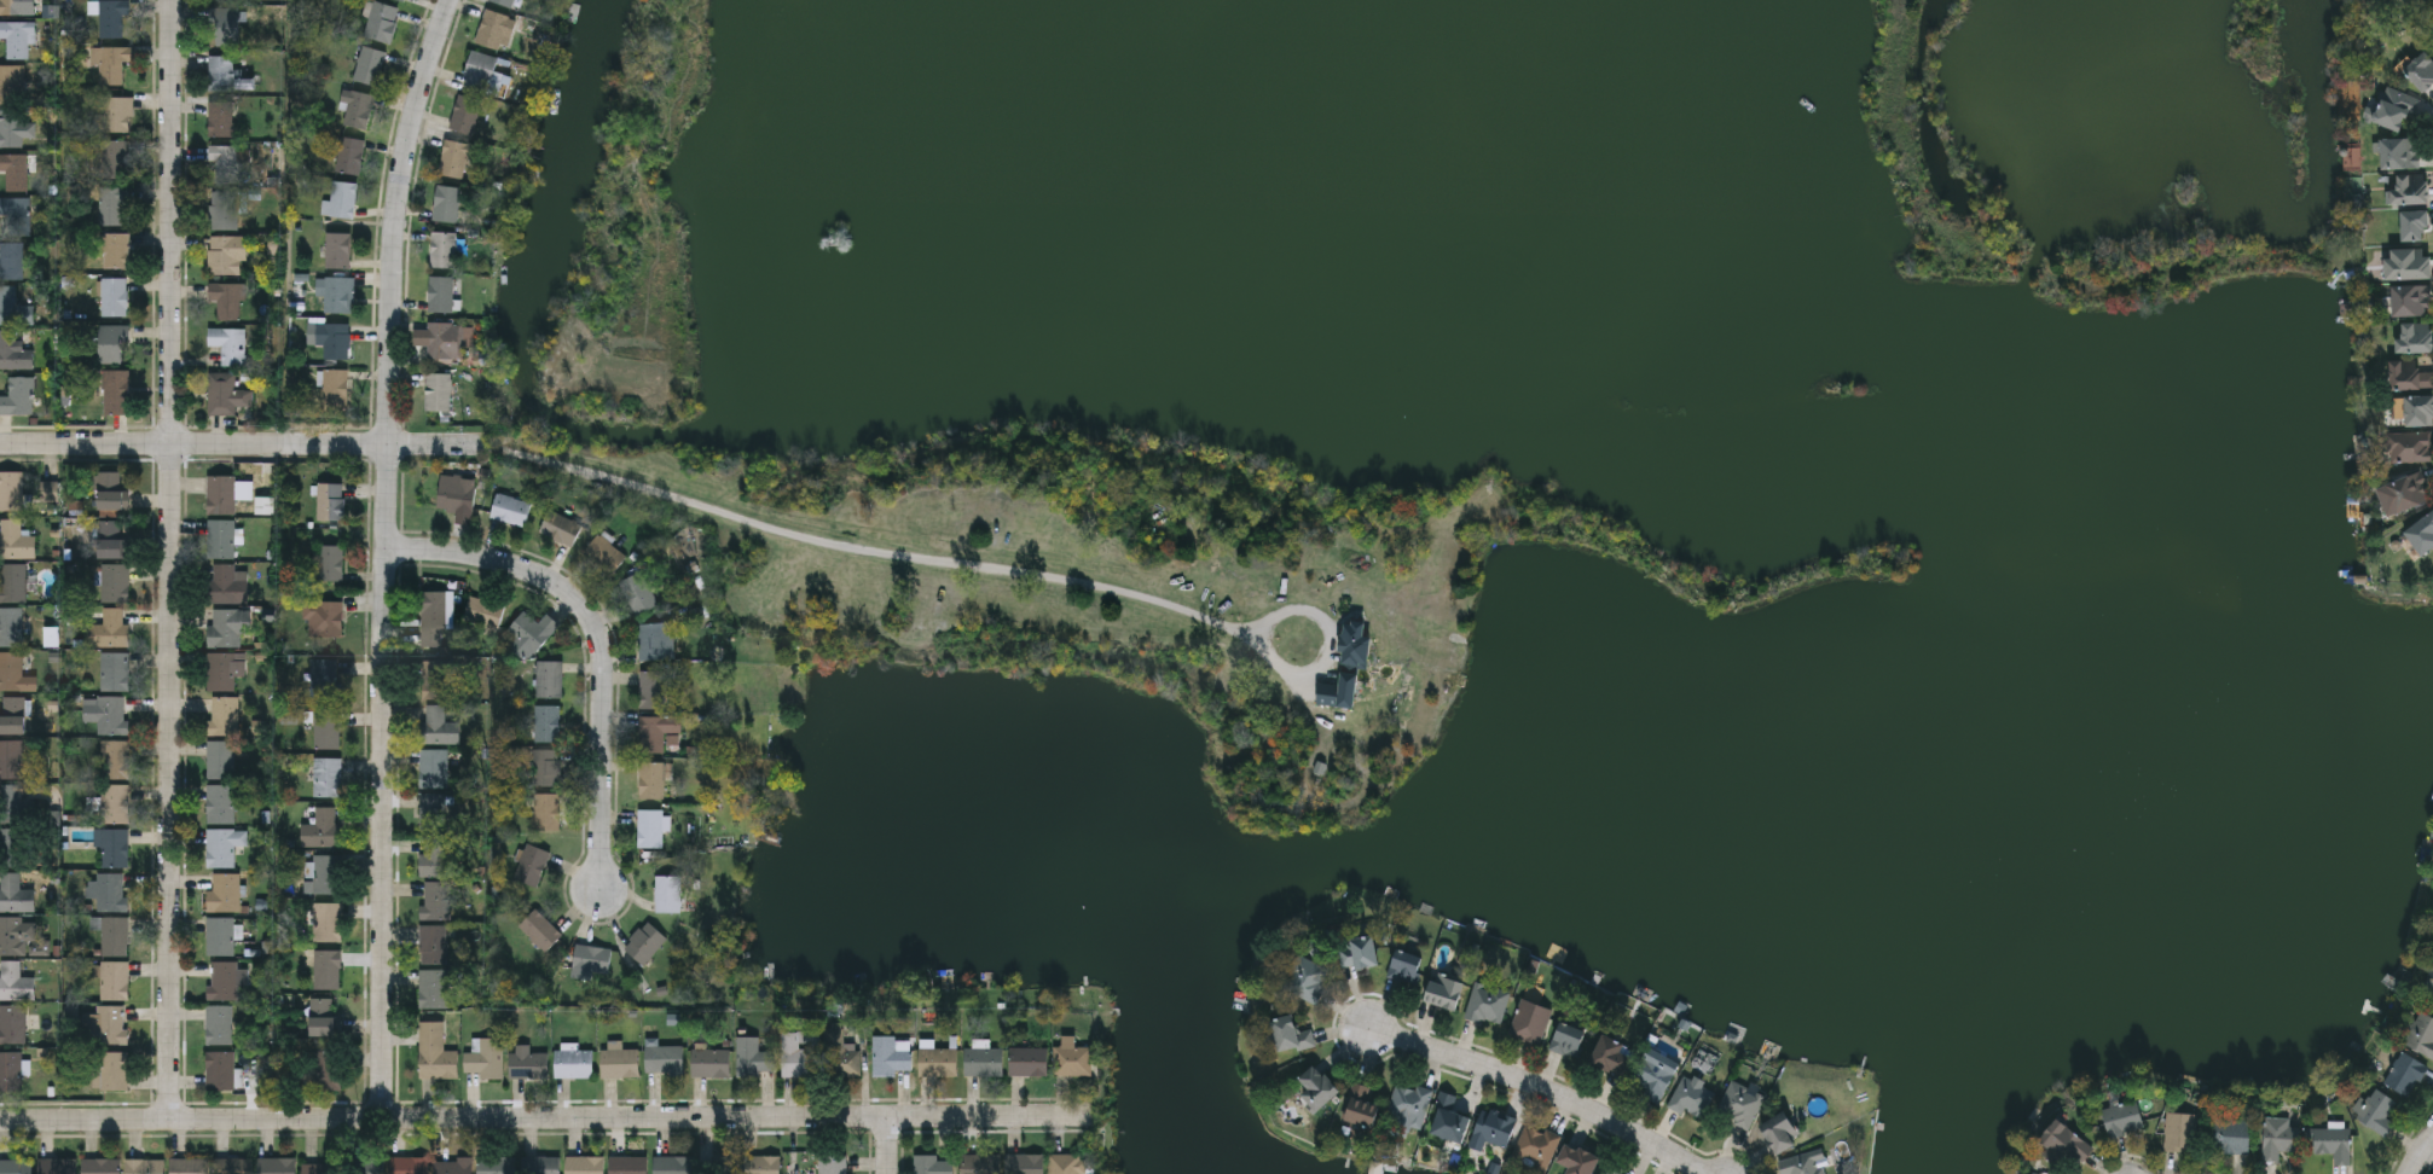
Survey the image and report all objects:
building: (225, 0)
building: (401, 0)
building: (503, 2)
building: (11, 7)
building: (110, 19)
building: (381, 23)
building: (225, 27)
building: (493, 29)
building: (16, 40)
building: (114, 66)
building: (369, 66)
building: (2421, 70)
building: (221, 74)
building: (483, 75)
building: (11, 85)
building: (355, 109)
building: (2393, 109)
building: (116, 115)
building: (465, 115)
building: (220, 118)
building: (11, 129)
building: (2399, 152)
building: (348, 156)
building: (115, 159)
building: (452, 159)
building: (227, 164)
building: (15, 172)
building: (2408, 190)
building: (342, 199)
building: (111, 204)
building: (446, 204)
building: (224, 210)
building: (15, 216)
road: (172, 222)
building: (2415, 226)
building: (442, 249)
building: (114, 250)
building: (337, 250)
building: (222, 255)
building: (11, 261)
building: (2408, 262)
building: (335, 293)
building: (440, 293)
building: (112, 297)
building: (224, 300)
building: (2411, 300)
building: (7, 306)
building: (2415, 337)
building: (332, 339)
building: (444, 341)
building: (111, 344)
building: (228, 344)
building: (13, 353)
building: (2409, 374)
building: (334, 389)
building: (438, 391)
building: (115, 393)
building: (224, 395)
building: (17, 396)
building: (2414, 408)
road: (247, 446)
building: (2409, 447)
building: (10, 490)
building: (109, 490)
building: (2409, 490)
building: (224, 493)
building: (456, 493)
building: (329, 500)
building: (510, 508)
building: (561, 527)
building: (2422, 534)
building: (221, 537)
building: (15, 539)
building: (112, 539)
road: (386, 554)
building: (606, 554)
road: (977, 556)
building: (330, 562)
building: (112, 581)
building: (12, 582)
building: (228, 582)
building: (638, 592)
building: (483, 614)
building: (323, 618)
building: (431, 618)
building: (11, 626)
building: (227, 627)
building: (109, 629)
building: (532, 629)
building: (655, 640)
road: (598, 641)
building: (222, 669)
building: (112, 670)
building: (13, 673)
building: (1350, 673)
building: (324, 678)
building: (435, 679)
building: (548, 679)
building: (651, 688)
building: (105, 714)
building: (12, 715)
building: (224, 715)
building: (546, 723)
building: (438, 725)
building: (325, 728)
building: (656, 731)
building: (11, 757)
building: (115, 759)
building: (220, 760)
building: (545, 766)
building: (433, 767)
building: (326, 775)
building: (650, 779)
road: (170, 781)
building: (12, 803)
building: (114, 803)
building: (220, 803)
building: (433, 810)
building: (546, 810)
building: (650, 827)
building: (321, 829)
building: (15, 844)
building: (222, 845)
building: (114, 847)
building: (433, 854)
building: (531, 864)
building: (328, 873)
building: (109, 890)
building: (225, 890)
building: (16, 893)
building: (667, 893)
building: (436, 900)
building: (328, 922)
building: (539, 930)
building: (16, 934)
building: (111, 934)
building: (220, 935)
building: (644, 942)
building: (431, 943)
building: (1357, 951)
building: (591, 958)
building: (1403, 967)
building: (328, 969)
building: (112, 980)
building: (222, 980)
building: (1308, 980)
building: (15, 982)
building: (431, 988)
building: (2428, 988)
building: (1444, 990)
building: (1487, 1002)
building: (321, 1005)
building: (1530, 1021)
building: (110, 1023)
building: (12, 1024)
building: (219, 1024)
building: (325, 1024)
building: (1291, 1034)
building: (2421, 1034)
building: (1568, 1040)
building: (434, 1052)
building: (800, 1053)
building: (752, 1056)
building: (888, 1056)
building: (1611, 1056)
building: (486, 1057)
building: (840, 1057)
building: (1072, 1057)
building: (664, 1058)
building: (708, 1060)
building: (983, 1060)
building: (1027, 1060)
building: (619, 1062)
building: (937, 1062)
building: (573, 1063)
building: (527, 1064)
building: (111, 1070)
building: (220, 1070)
building: (328, 1070)
building: (10, 1071)
building: (2405, 1074)
building: (1652, 1076)
building: (1316, 1089)
road: (1542, 1089)
building: (1692, 1095)
building: (1739, 1103)
building: (1362, 1105)
building: (1408, 1105)
building: (2376, 1112)
road: (548, 1117)
building: (2122, 1117)
building: (1449, 1120)
building: (1494, 1127)
building: (1780, 1132)
building: (2179, 1132)
building: (2232, 1135)
building: (2280, 1137)
building: (2063, 1143)
building: (2334, 1143)
road: (888, 1145)
building: (1535, 1147)
road: (2423, 1158)
building: (1577, 1160)
building: (832, 1162)
building: (981, 1163)
building: (1023, 1163)
building: (1066, 1163)
building: (1803, 1163)
building: (496, 1164)
building: (541, 1164)
building: (584, 1164)
building: (627, 1164)
building: (671, 1164)
building: (761, 1164)
building: (932, 1164)
building: (16, 1166)
building: (57, 1166)
building: (100, 1166)
building: (144, 1166)
building: (189, 1166)
building: (232, 1166)
building: (277, 1166)
building: (369, 1166)
building: (406, 1166)
building: (454, 1166)
building: (723, 1166)
building: (320, 1168)
building: (1610, 1168)

